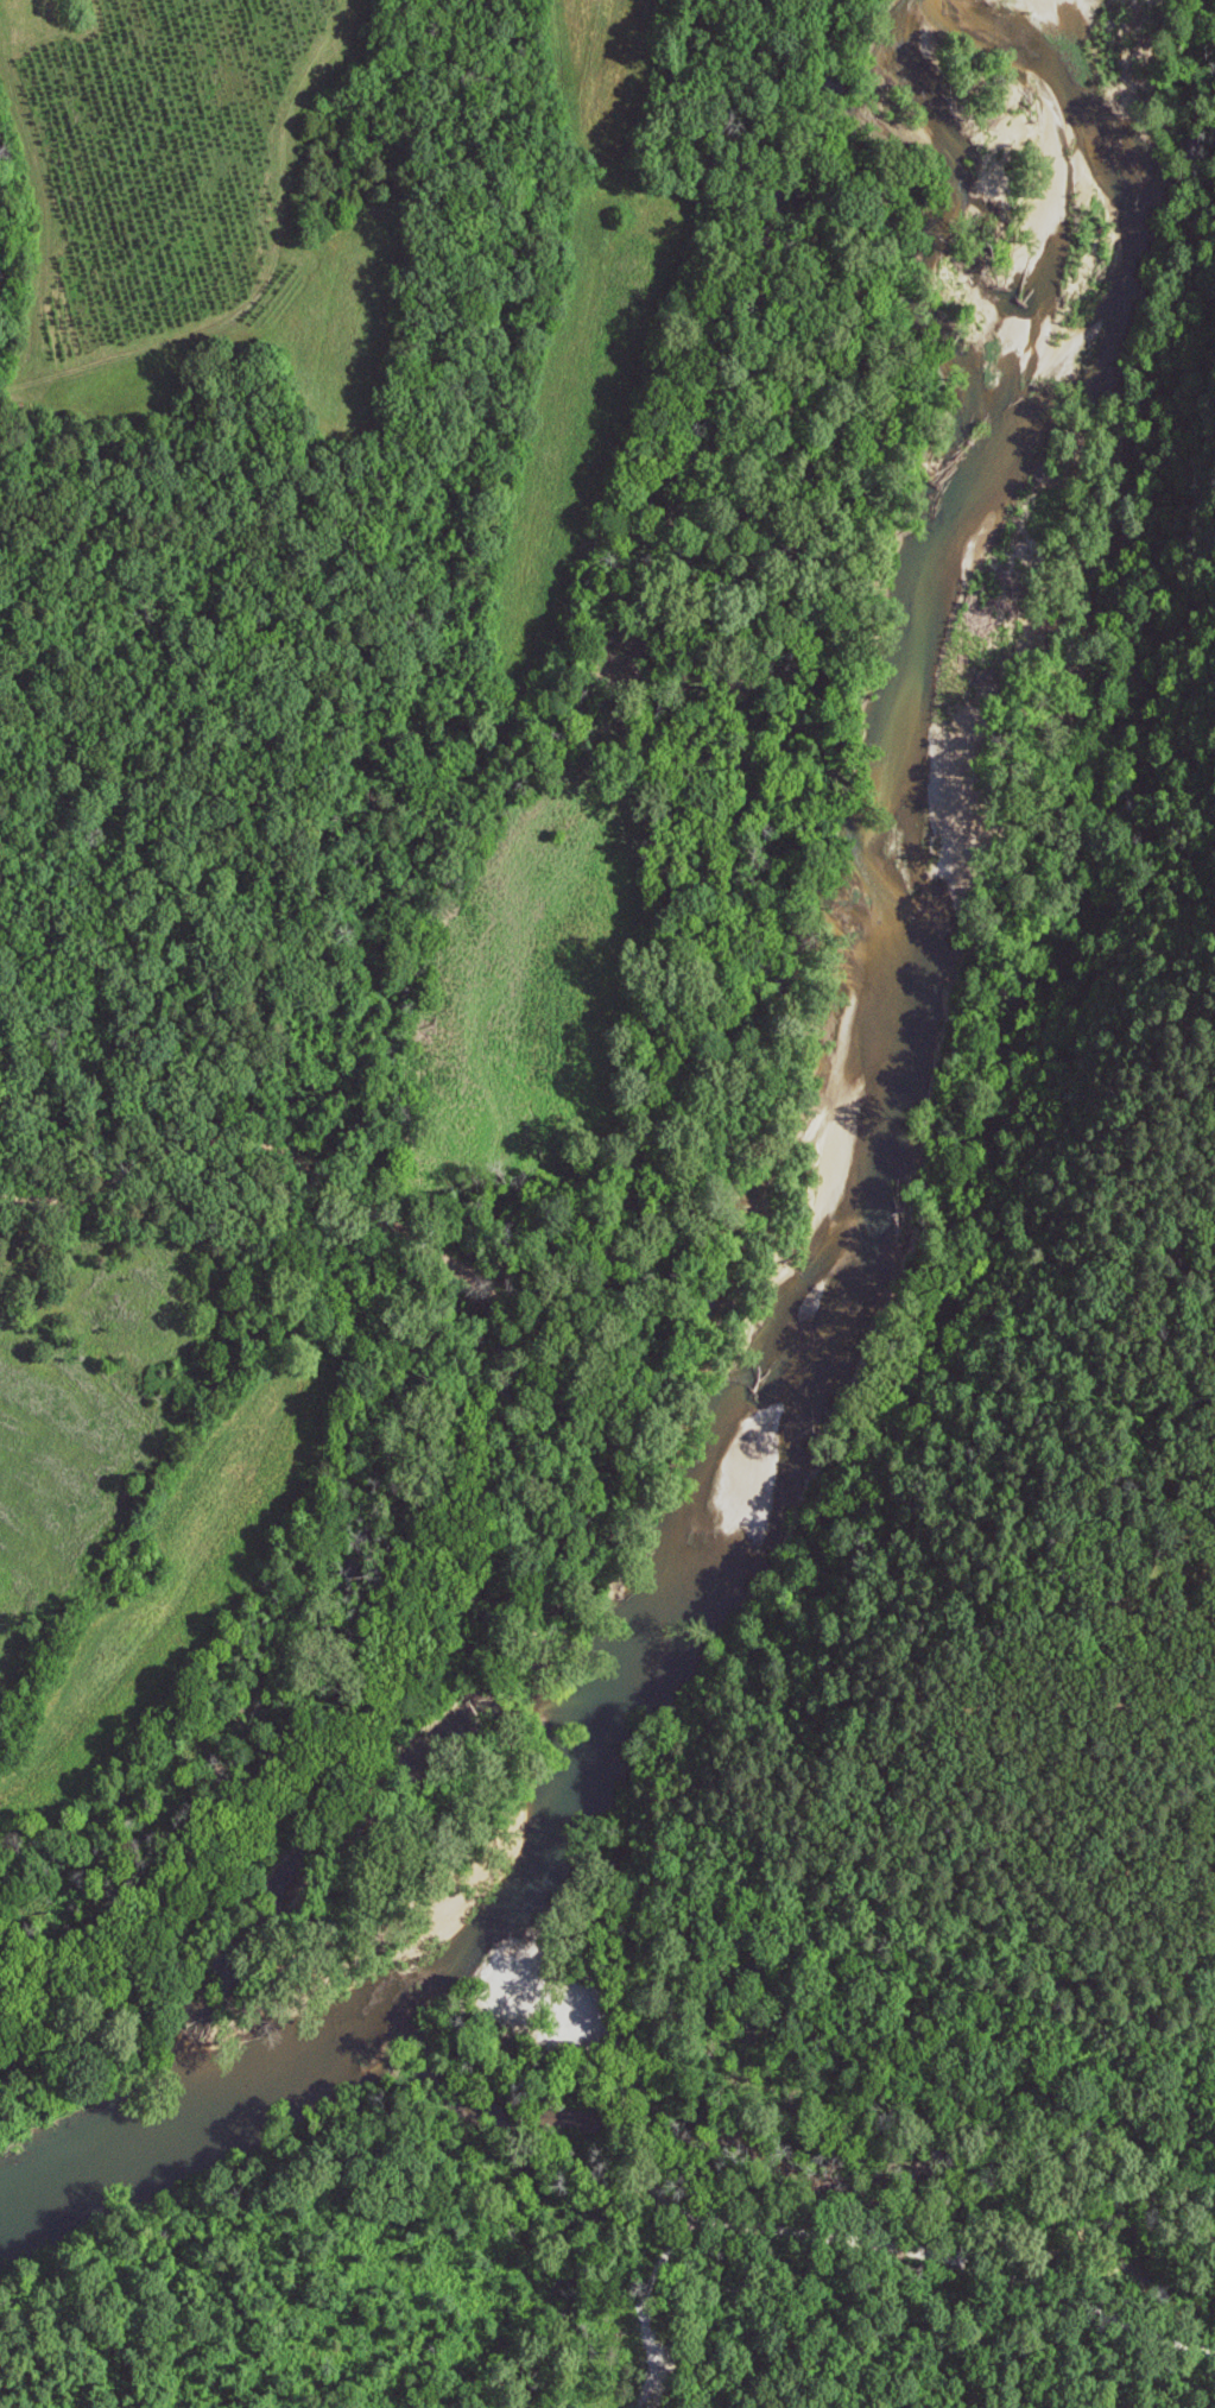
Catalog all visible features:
river: (859, 1206)
road: (340, 1310)
road: (1209, 2345)

